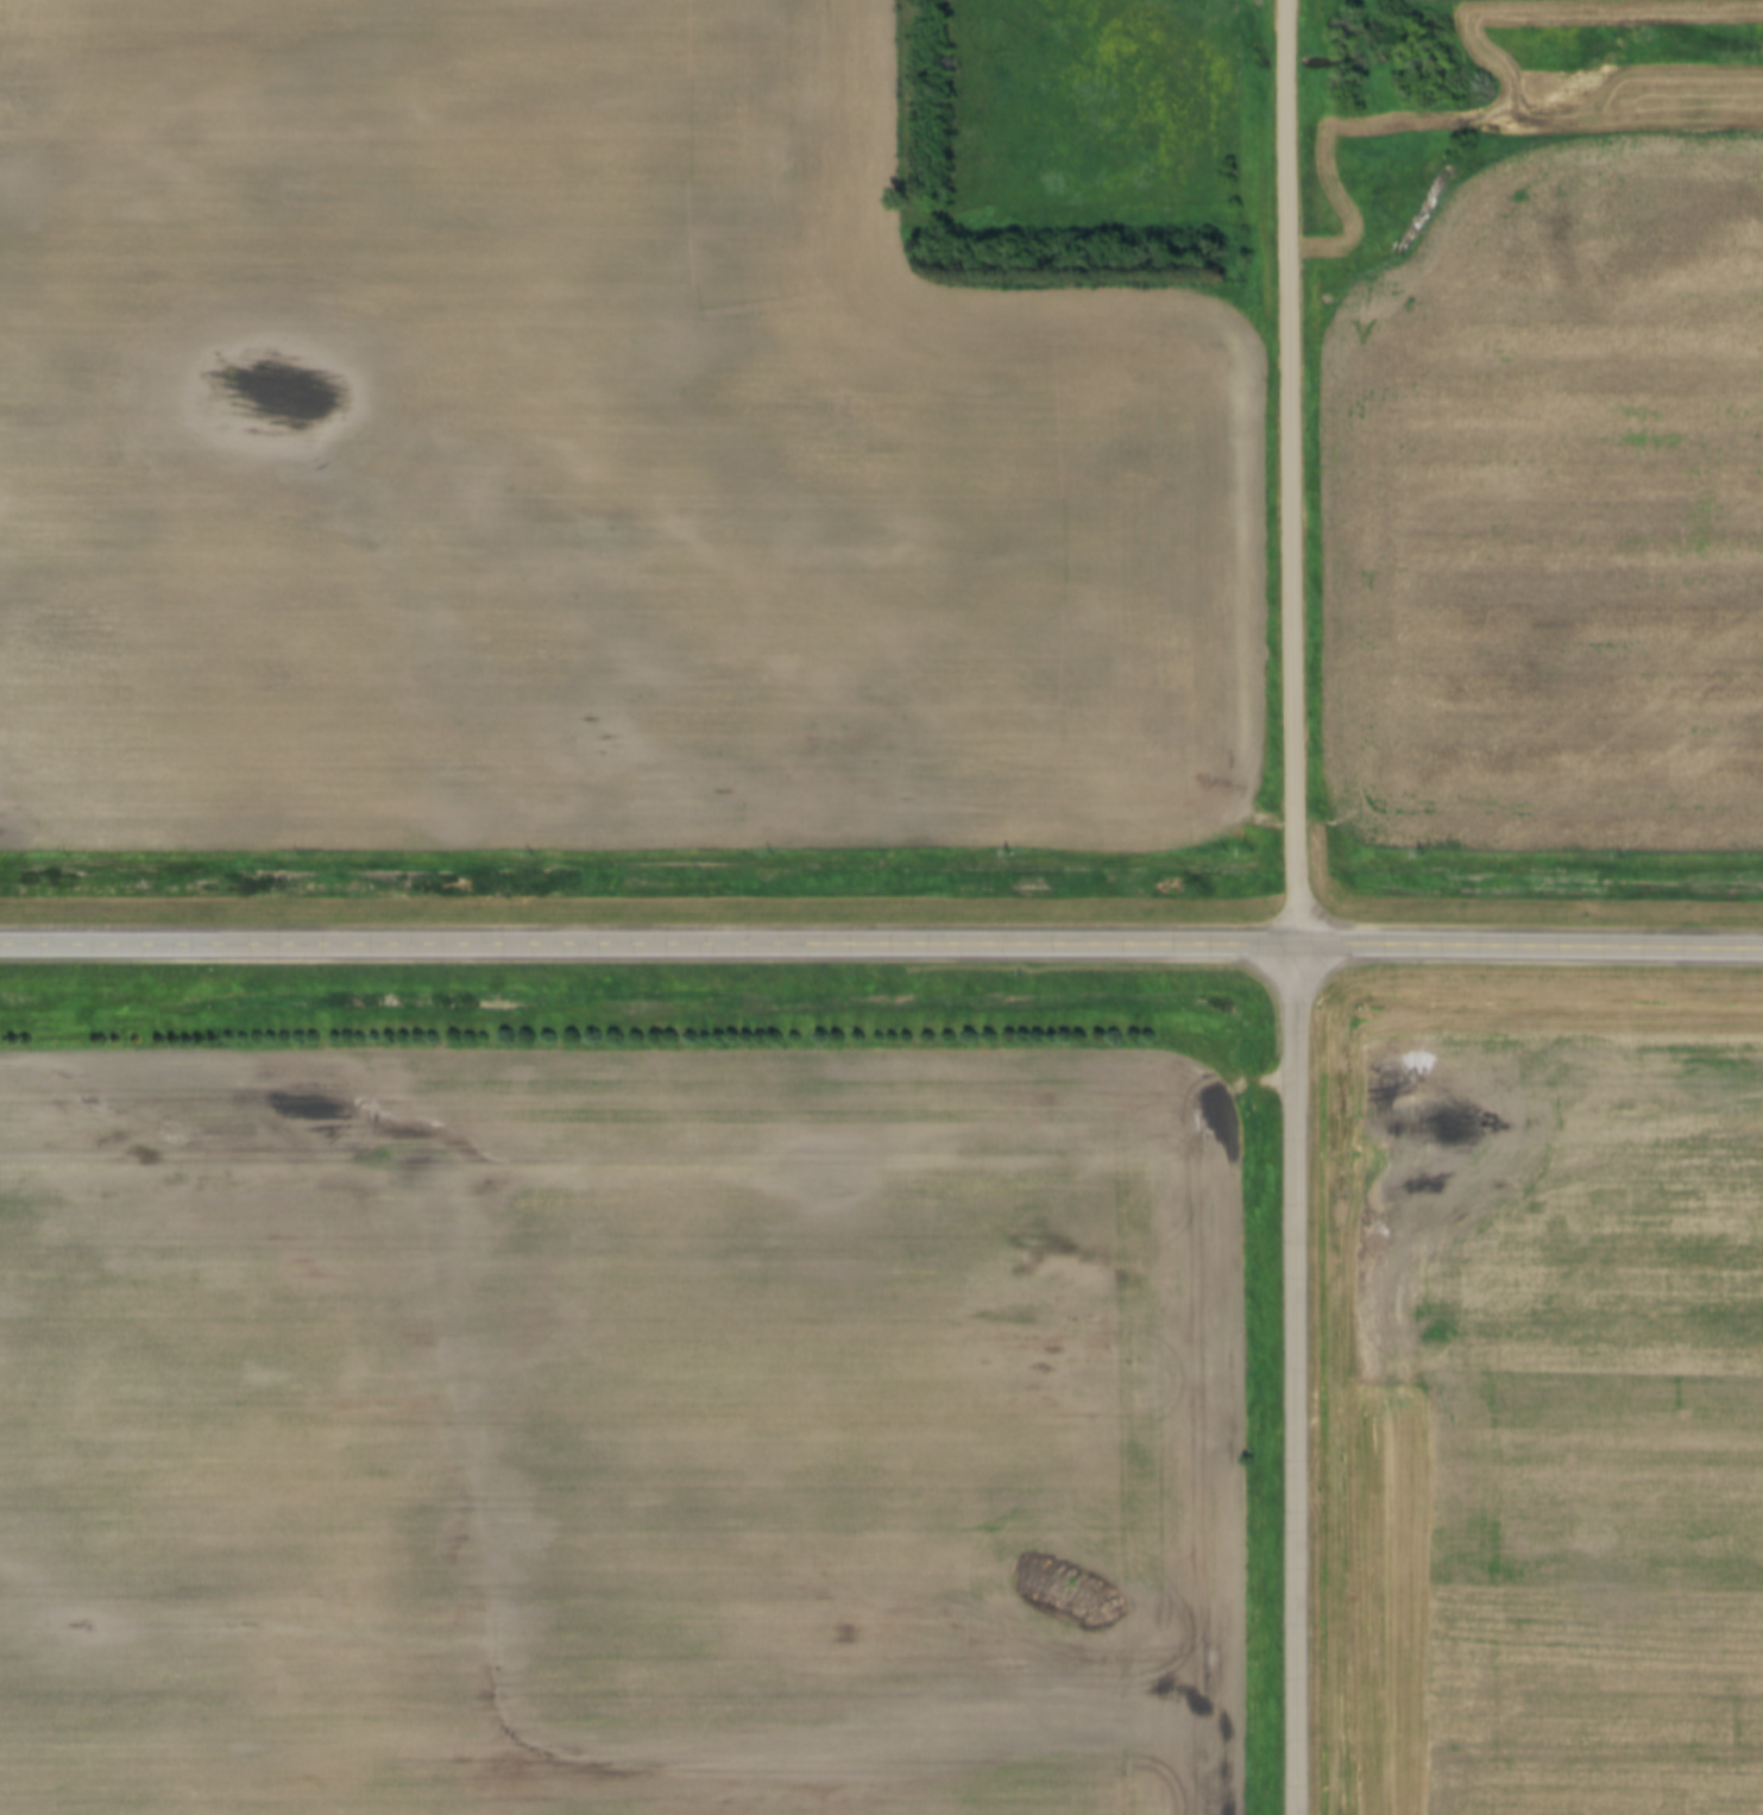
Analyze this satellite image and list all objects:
road: (1293, 473)
road: (881, 945)
road: (1301, 1380)

